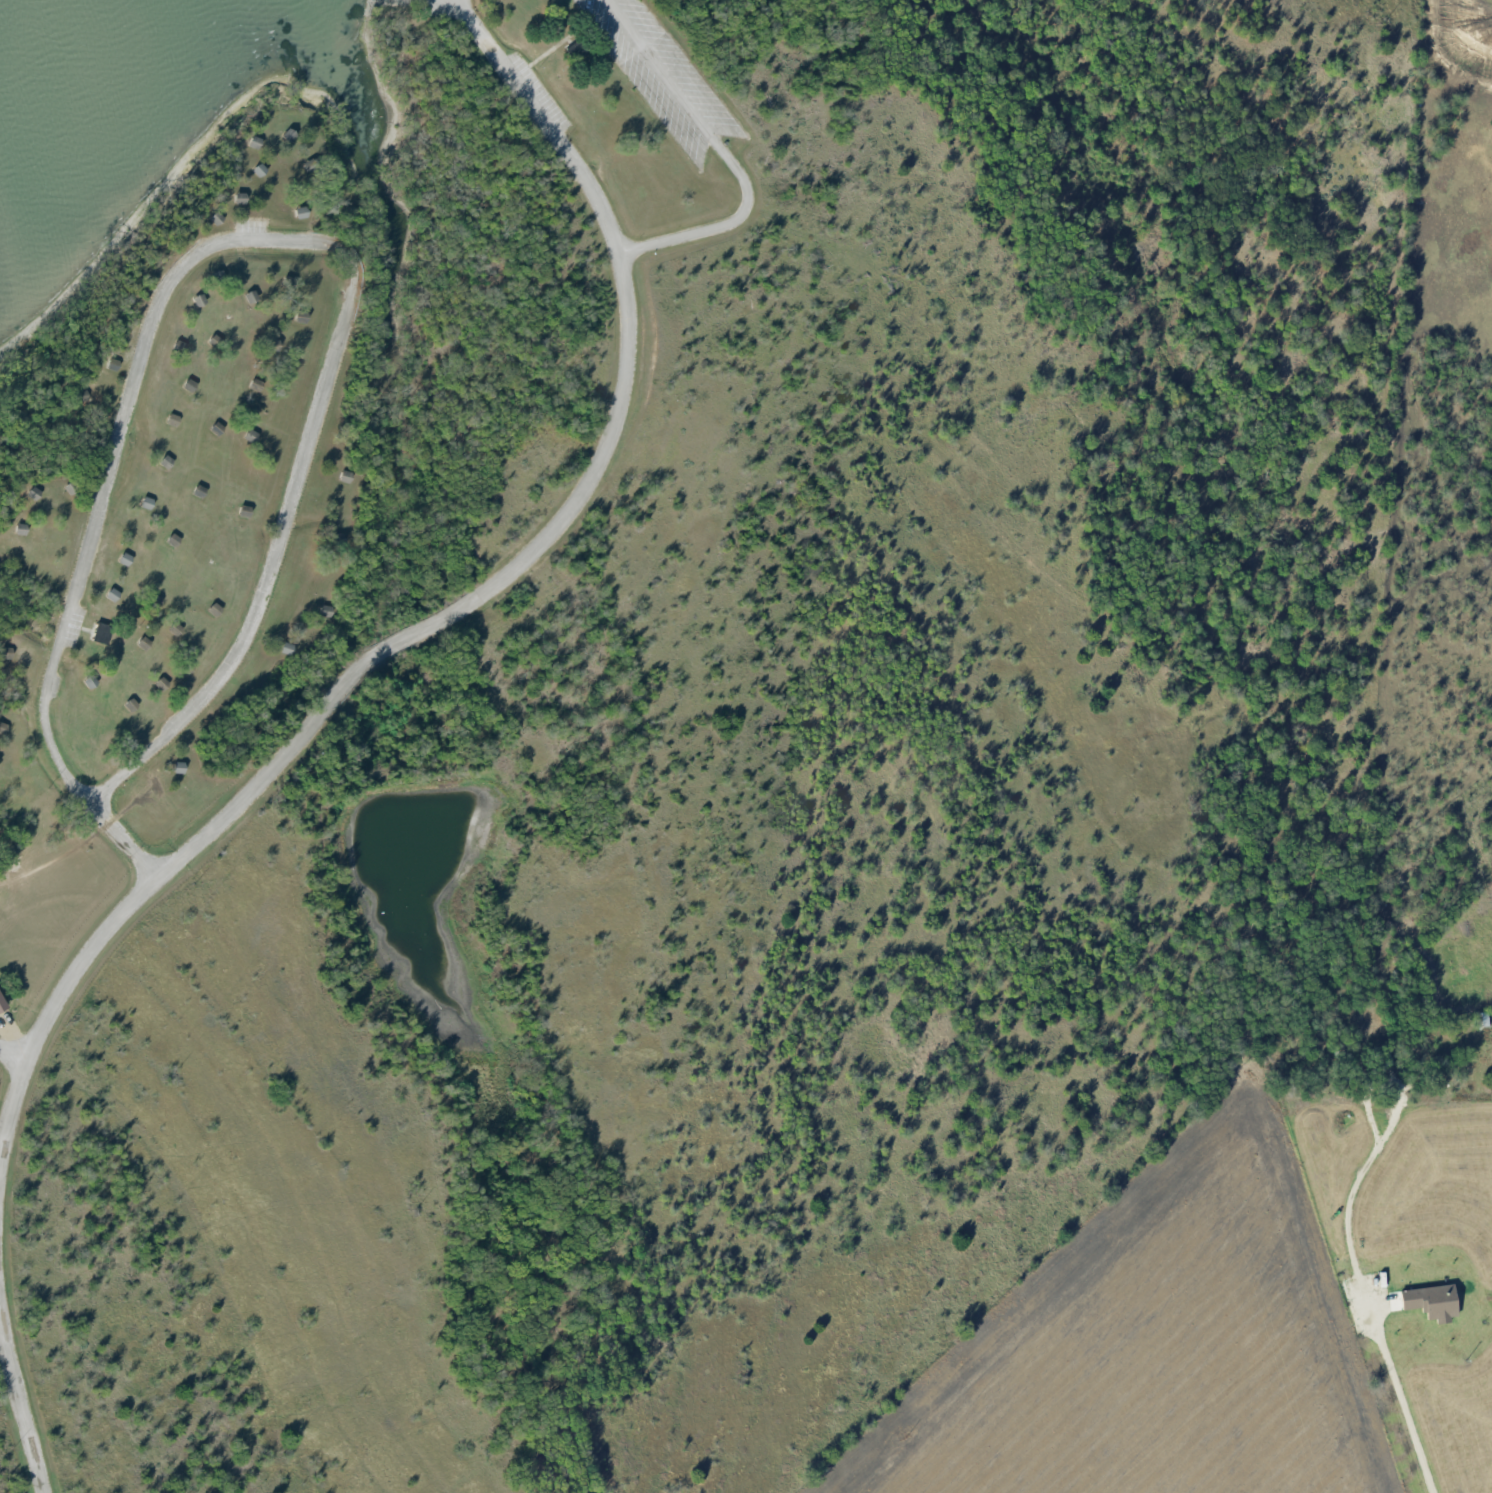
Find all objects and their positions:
road: (560, 42)
parking lot: (658, 74)
parking lot: (533, 97)
building: (258, 170)
road: (660, 243)
road: (173, 312)
park: (332, 497)
road: (463, 608)
building: (99, 633)
road: (106, 929)
building: (2, 1004)
road: (10, 1106)
building: (1426, 1302)
road: (1362, 1304)
road: (15, 1393)

